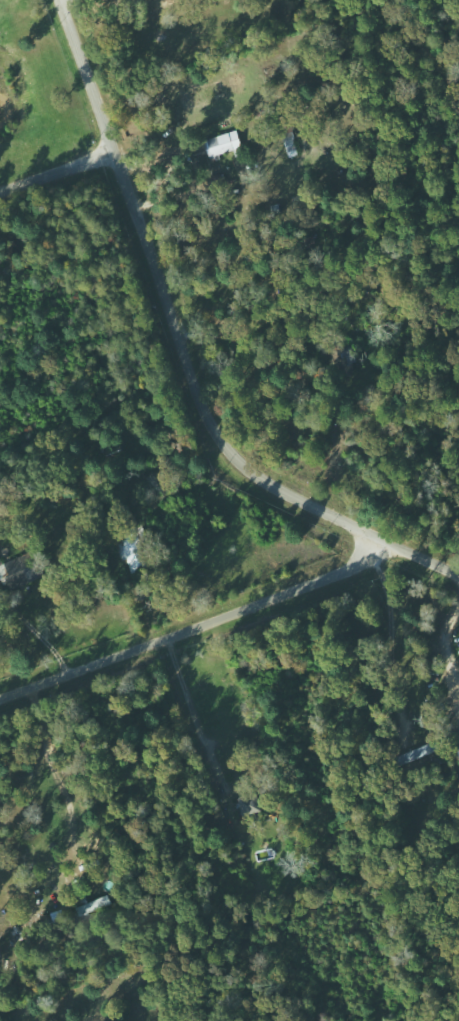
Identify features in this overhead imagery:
road: (84, 76)
building: (225, 144)
building: (292, 148)
road: (56, 171)
road: (209, 429)
building: (133, 550)
building: (26, 569)
road: (195, 626)
building: (423, 750)
building: (251, 804)
building: (89, 907)

